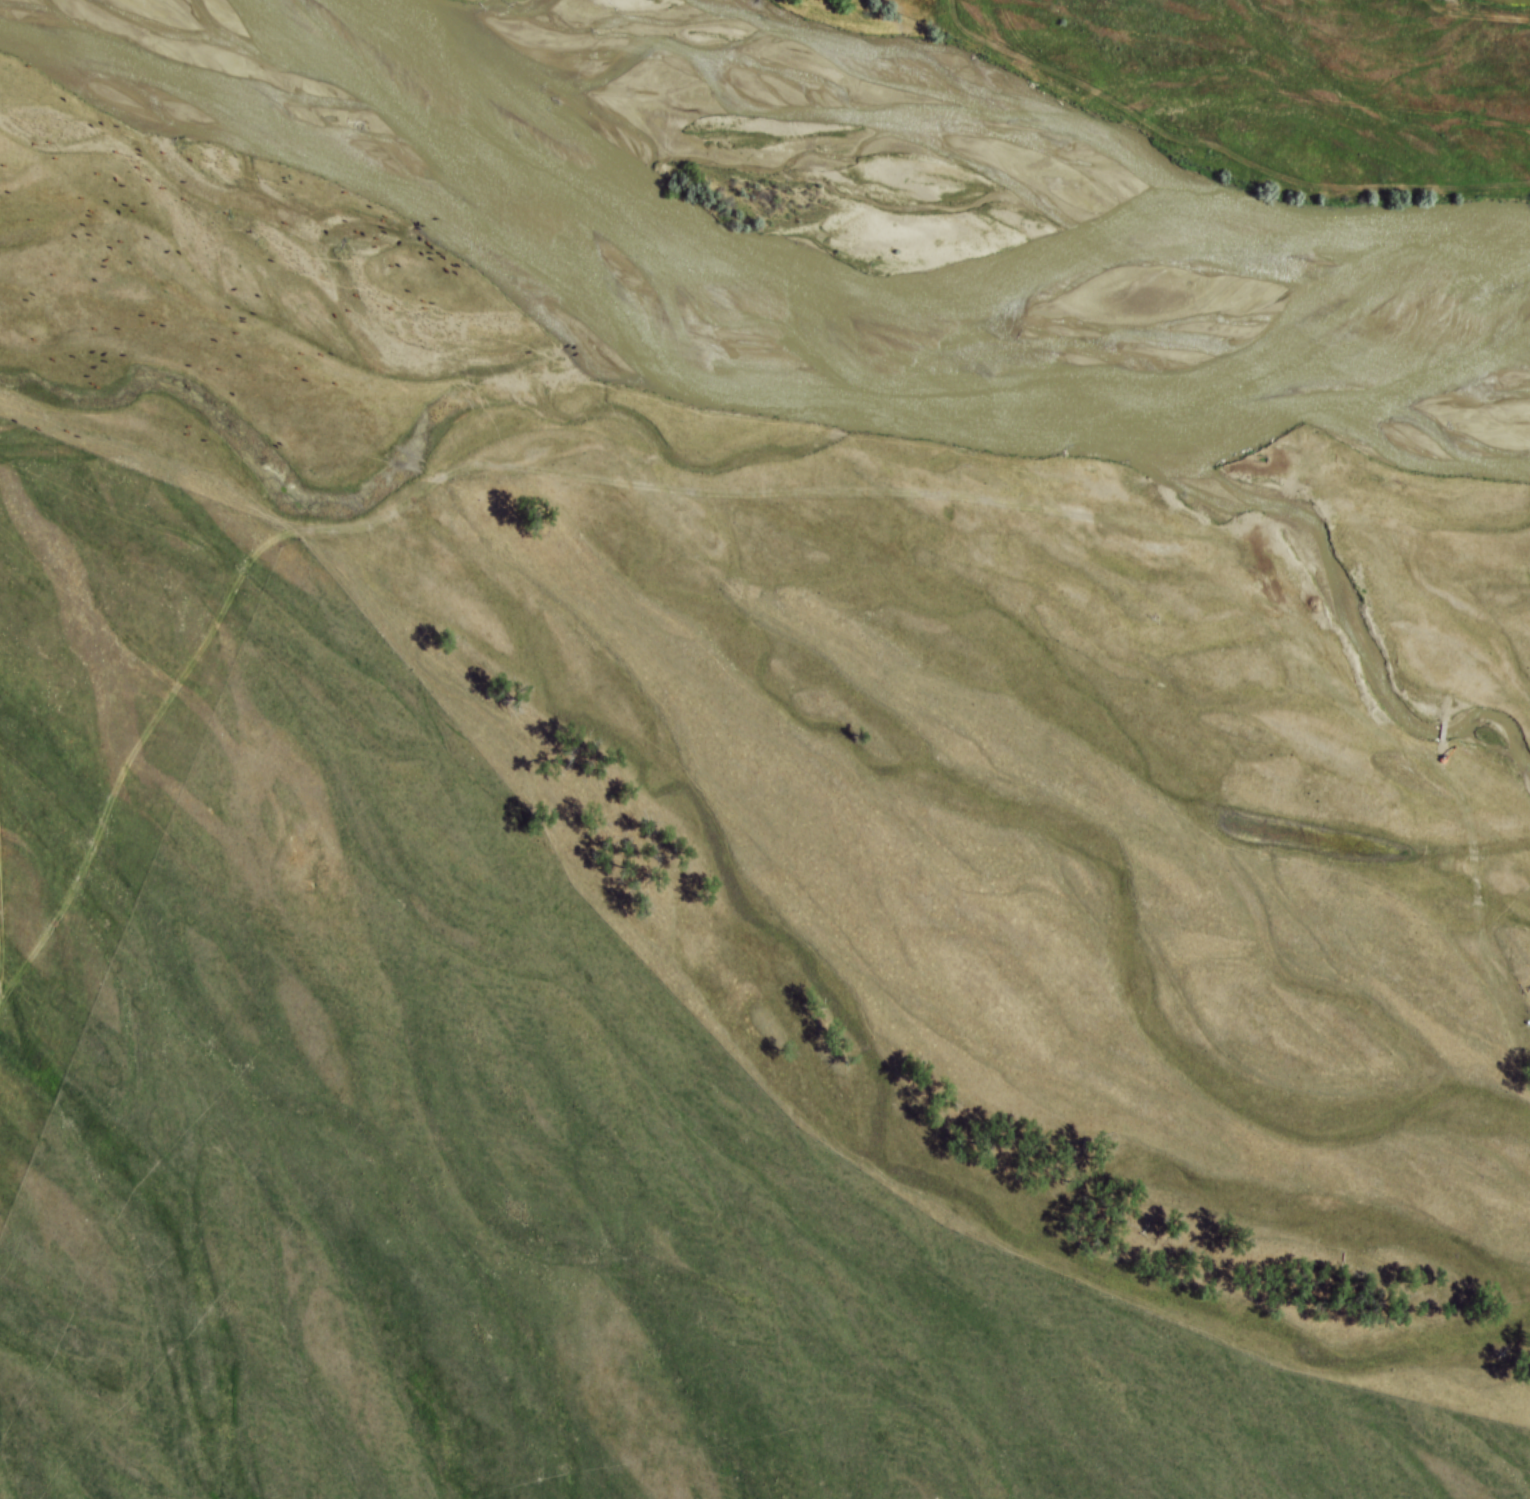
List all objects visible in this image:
river: (855, 298)

